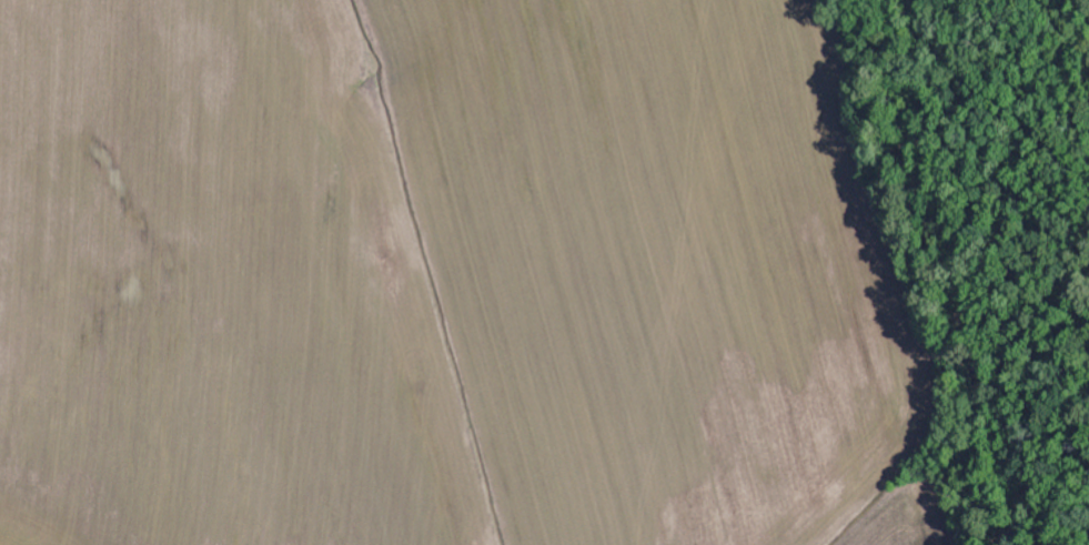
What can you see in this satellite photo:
road: (929, 97)
road: (917, 370)

